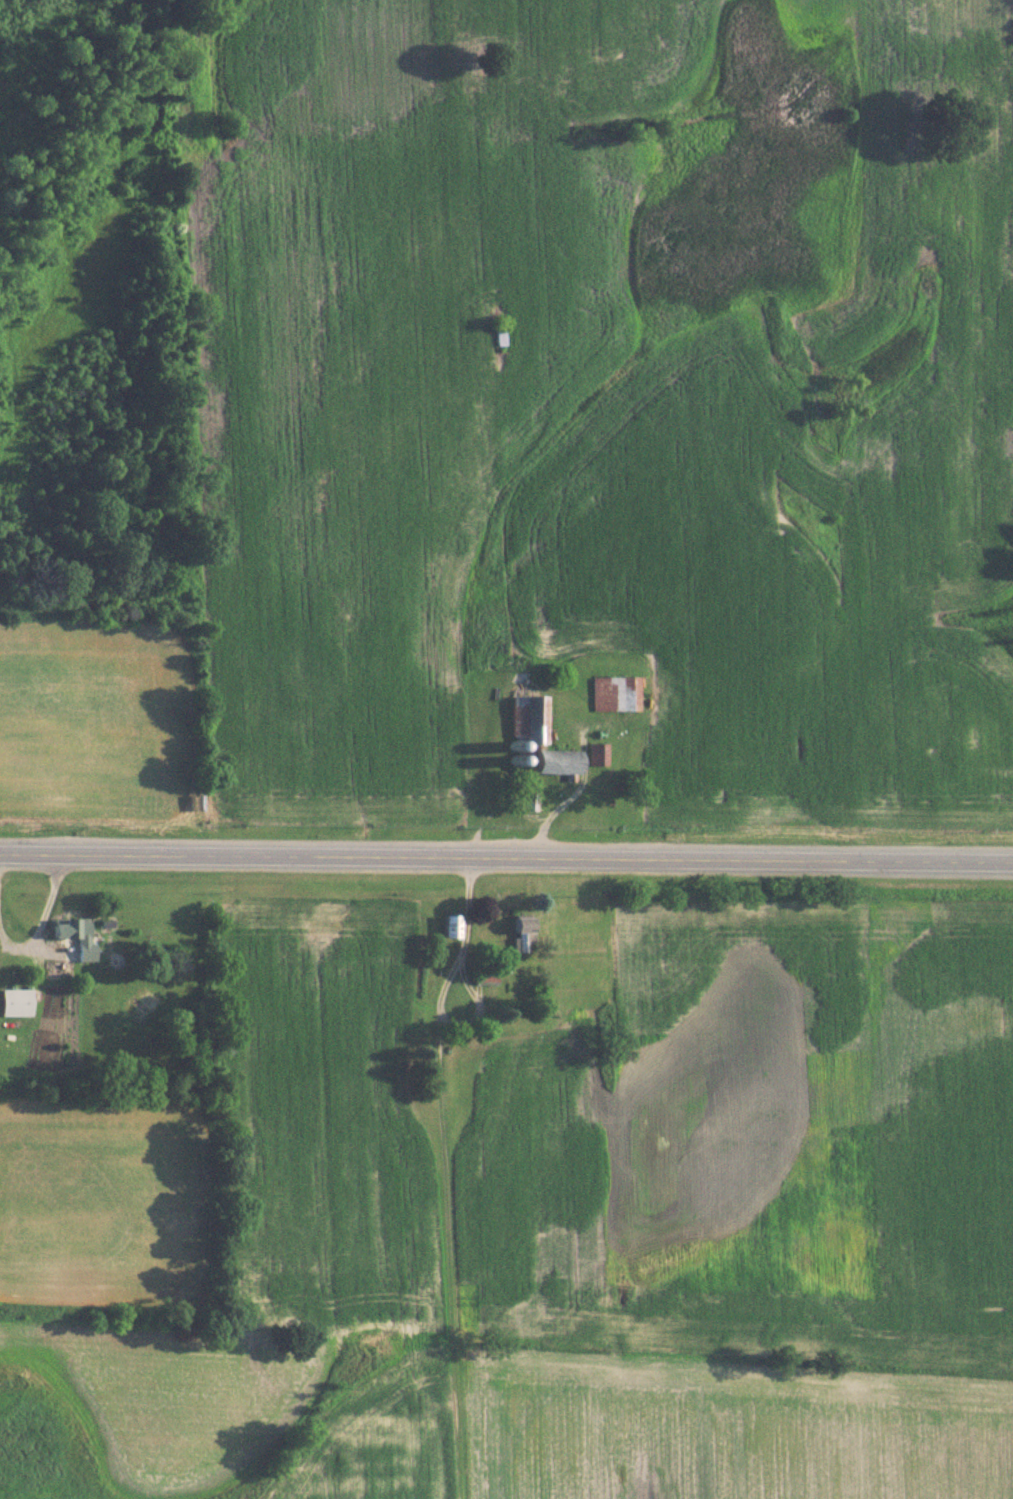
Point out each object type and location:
building: (498, 334)
building: (612, 694)
building: (526, 718)
building: (595, 754)
building: (552, 761)
building: (526, 800)
road: (506, 857)
road: (44, 913)
building: (448, 926)
building: (520, 934)
building: (75, 935)
building: (483, 976)
road: (441, 987)
building: (14, 1001)

